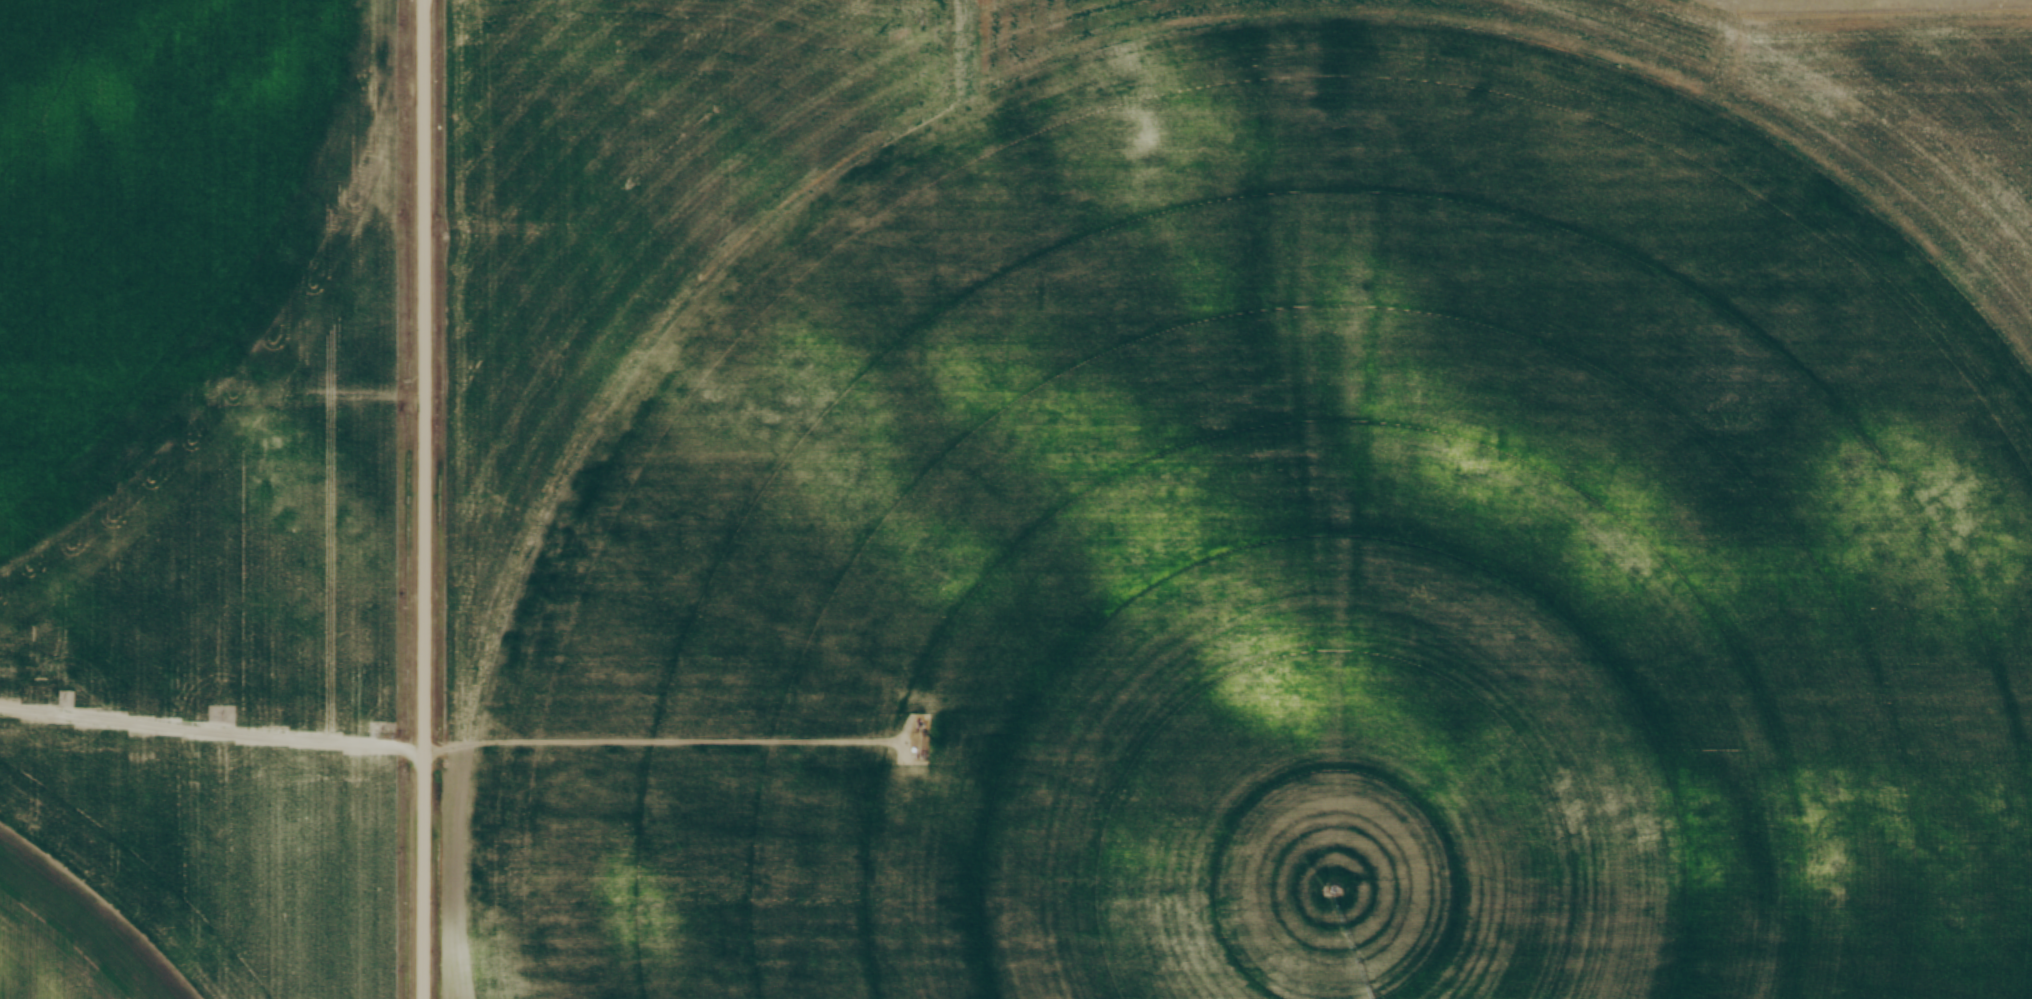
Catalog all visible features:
road: (426, 499)

